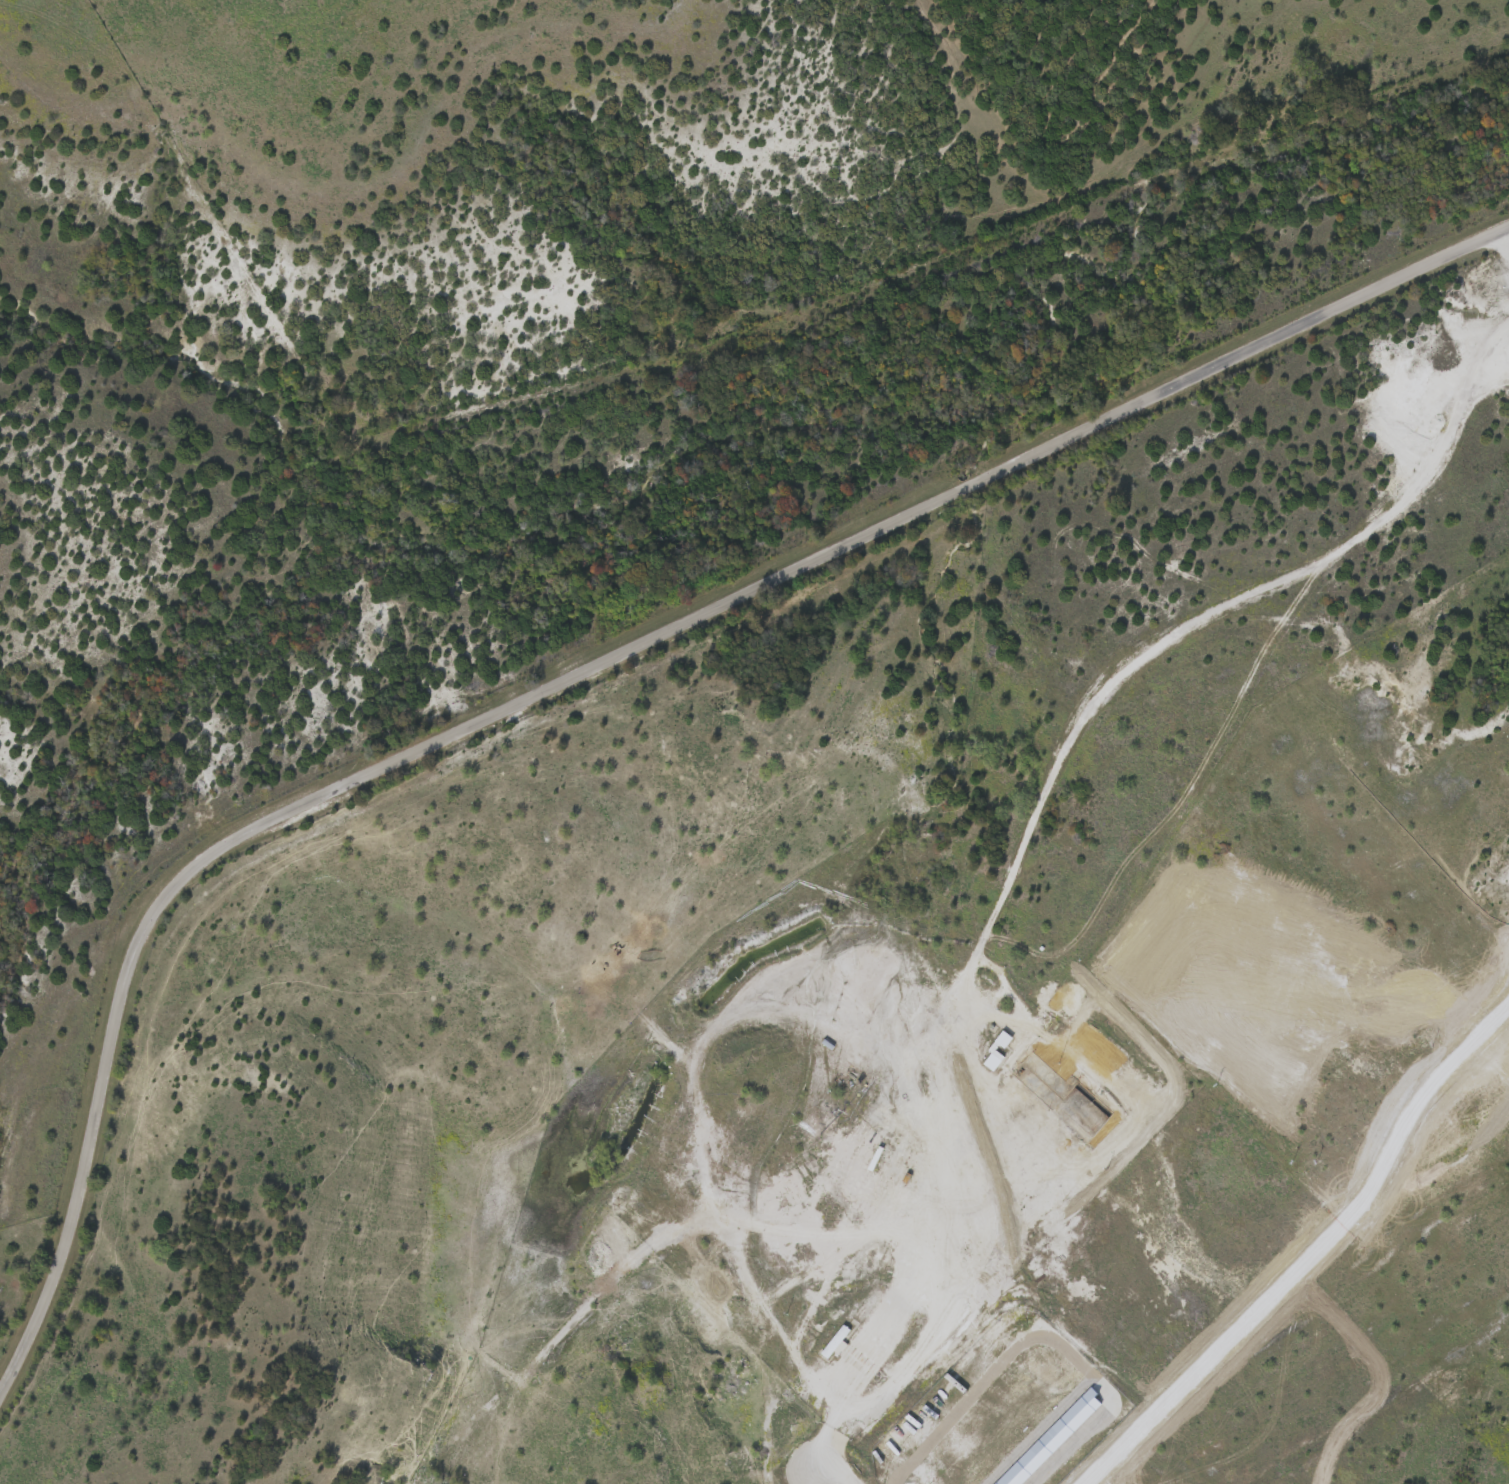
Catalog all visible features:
road: (593, 666)
building: (1004, 1038)
building: (1111, 1142)
road: (1315, 1258)
building: (834, 1341)
road: (839, 1471)

